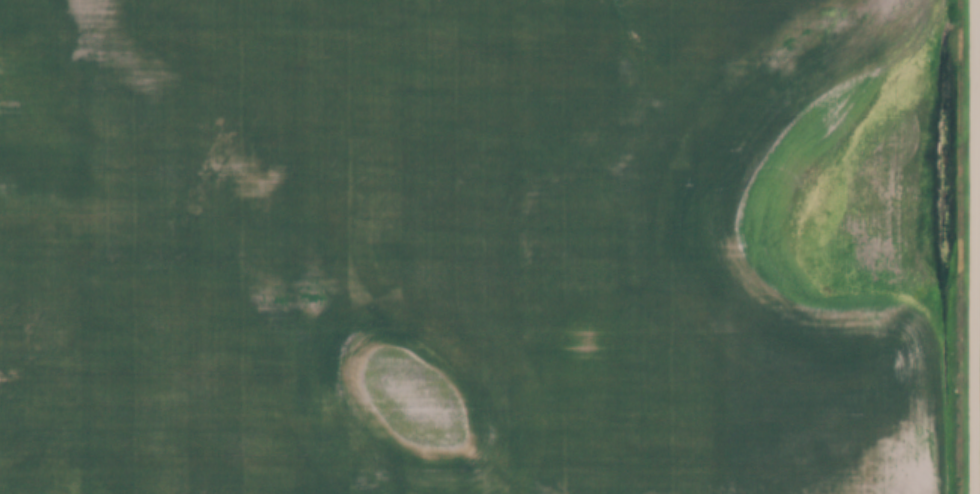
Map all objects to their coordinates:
road: (975, 246)

